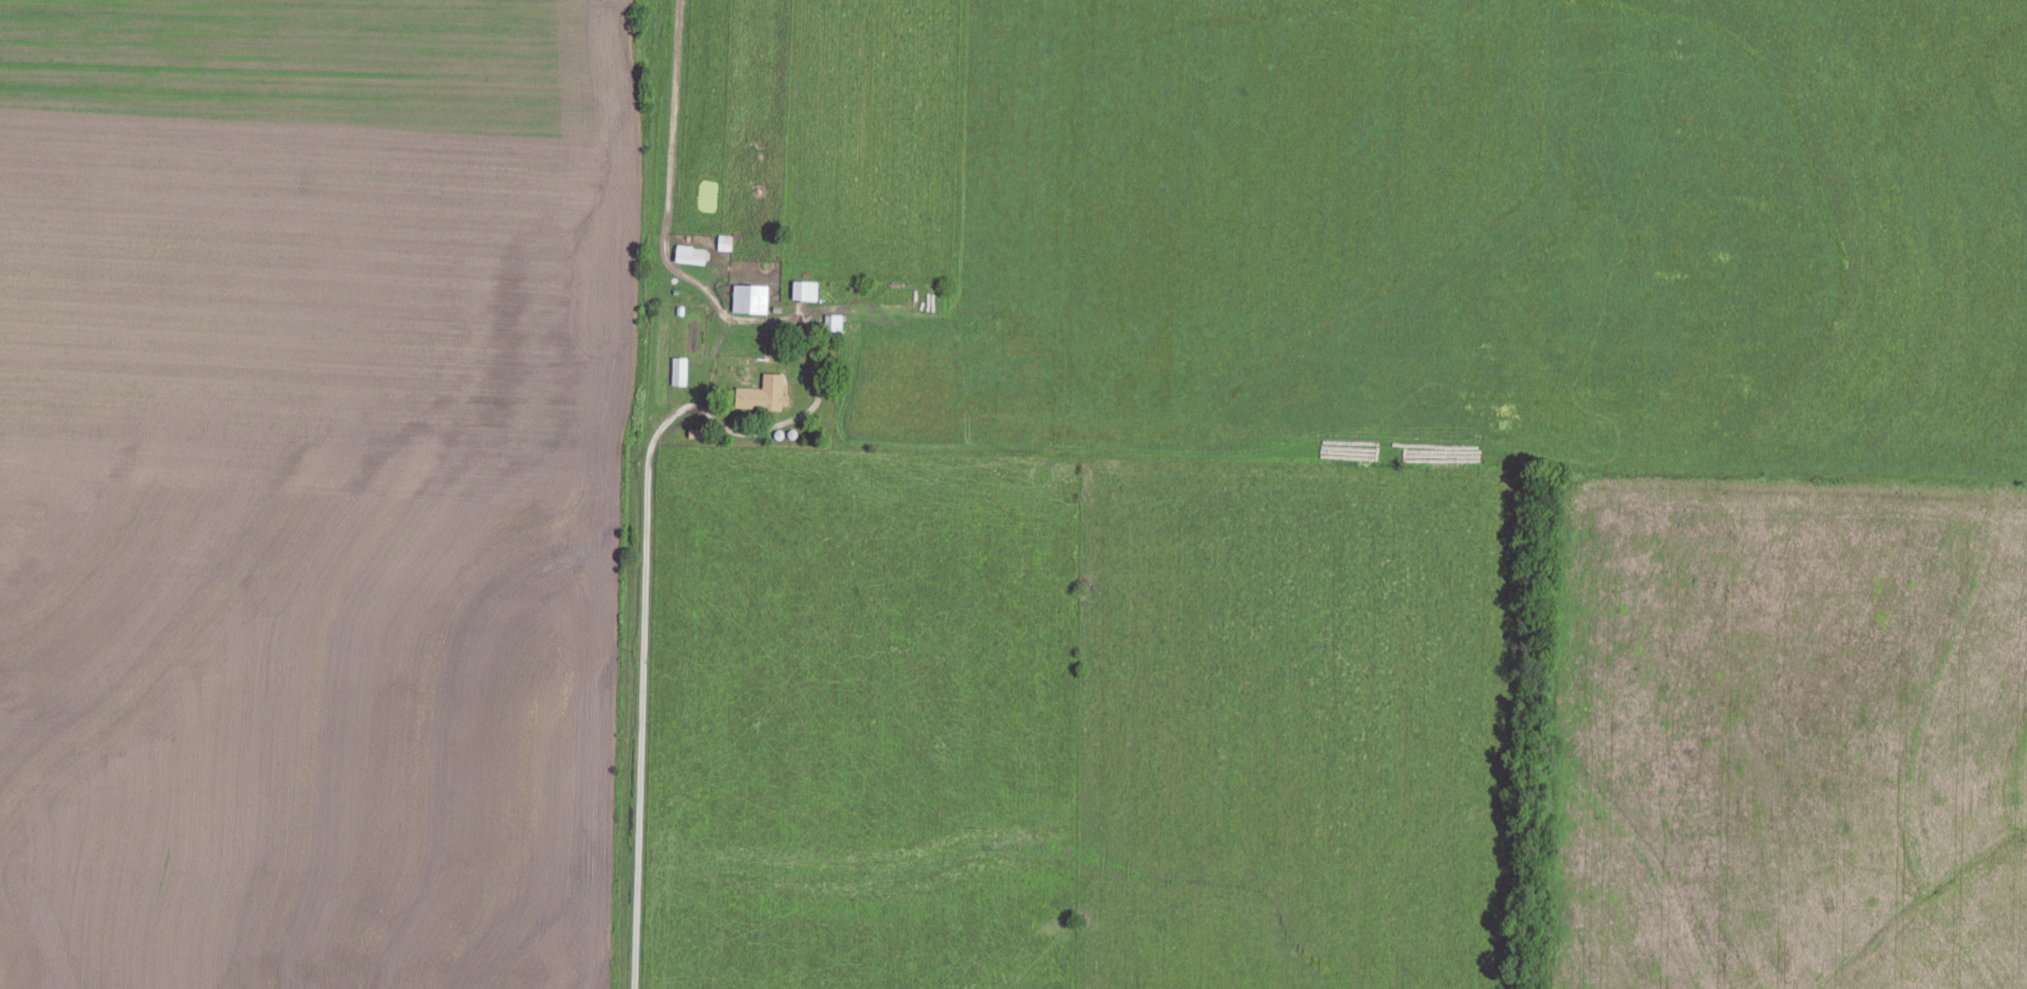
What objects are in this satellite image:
building: (725, 242)
building: (690, 254)
building: (805, 290)
building: (750, 298)
building: (833, 325)
building: (680, 371)
building: (762, 395)
crop: (317, 492)
road: (641, 605)

